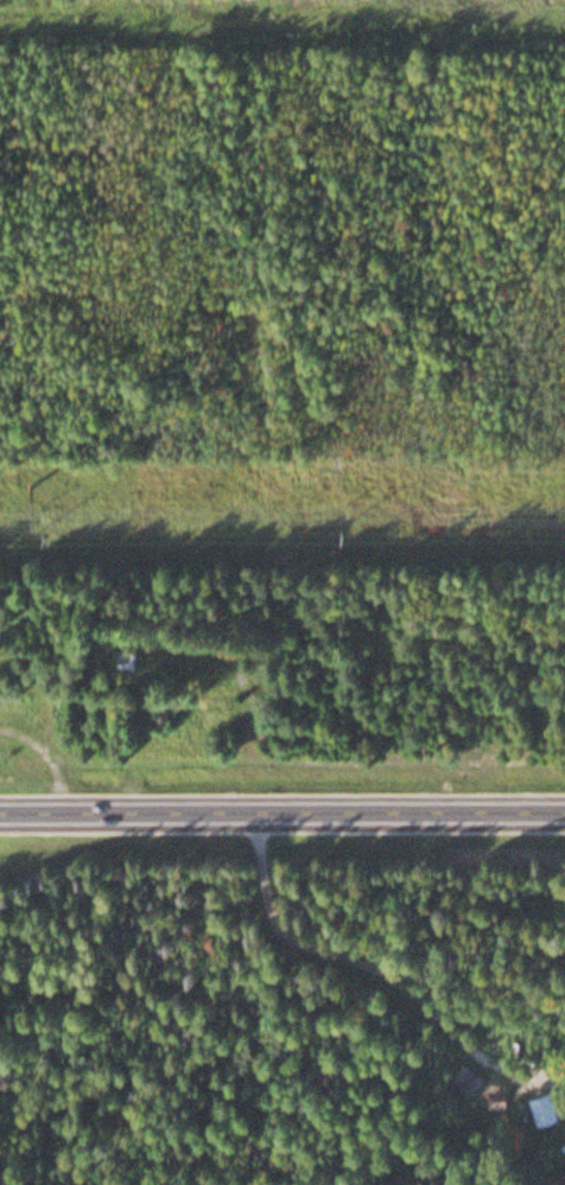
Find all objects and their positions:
power tower: (27, 479)
building: (121, 655)
road: (282, 809)
building: (542, 1106)

